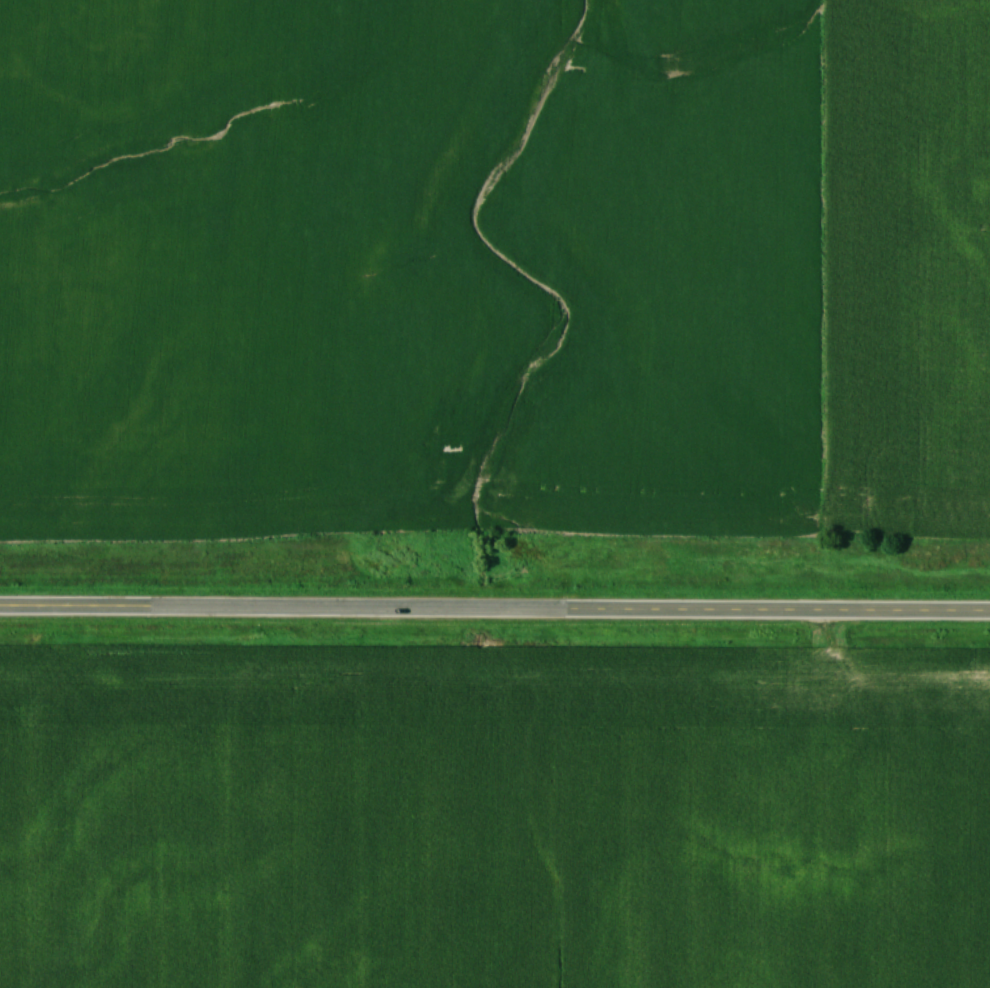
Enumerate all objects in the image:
road: (495, 596)

